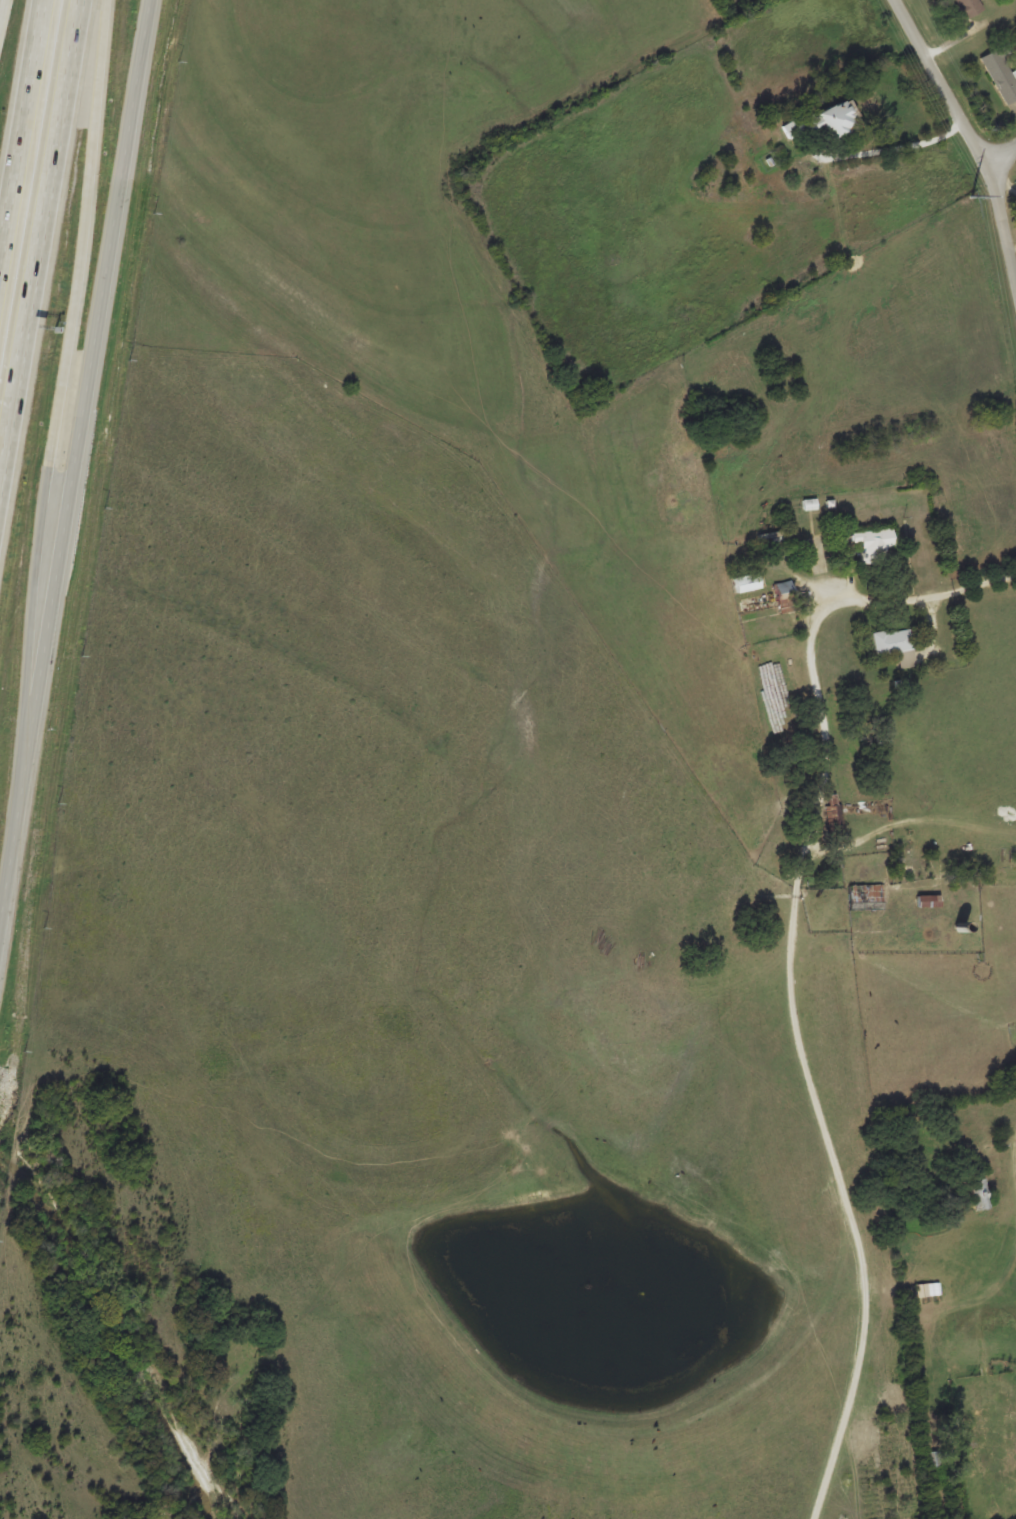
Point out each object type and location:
road: (1, 6)
building: (966, 7)
building: (1001, 72)
building: (823, 120)
road: (21, 125)
road: (969, 128)
road: (1004, 160)
road: (39, 237)
road: (59, 398)
road: (74, 462)
building: (809, 502)
building: (874, 539)
building: (746, 581)
building: (785, 595)
road: (863, 607)
building: (895, 644)
building: (835, 817)
building: (866, 896)
building: (929, 899)
road: (834, 1132)
building: (977, 1192)

